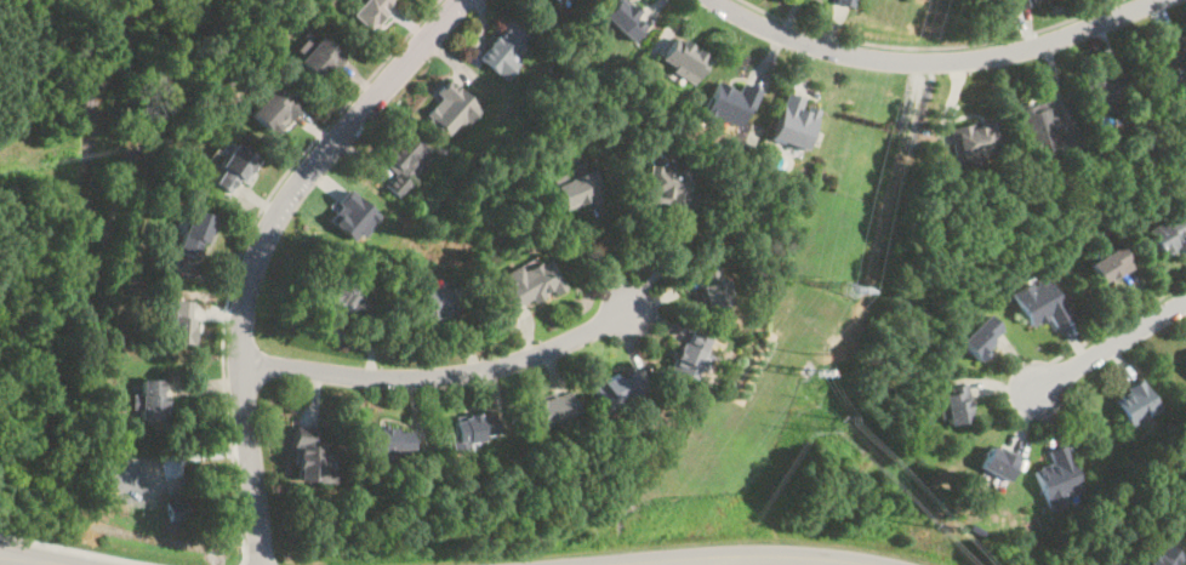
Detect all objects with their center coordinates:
building: (559, 1)
building: (1025, 1)
building: (843, 2)
building: (369, 12)
building: (620, 19)
road: (933, 48)
building: (502, 50)
building: (682, 58)
building: (1171, 58)
building: (318, 59)
road: (936, 63)
building: (1104, 93)
building: (730, 103)
building: (449, 109)
building: (270, 113)
building: (793, 120)
building: (1040, 125)
building: (974, 139)
building: (400, 153)
building: (232, 170)
building: (666, 187)
building: (574, 189)
building: (353, 216)
building: (192, 233)
building: (1164, 233)
road: (246, 236)
road: (107, 242)
road: (261, 249)
road: (611, 256)
road: (668, 259)
building: (1108, 264)
building: (528, 284)
power tower: (816, 284)
building: (711, 287)
power tower: (850, 290)
building: (341, 295)
building: (439, 299)
building: (1039, 302)
building: (178, 321)
road: (1118, 323)
building: (981, 337)
road: (1108, 343)
building: (688, 353)
power tower: (808, 376)
road: (437, 378)
building: (615, 390)
building: (150, 400)
building: (1134, 403)
building: (956, 405)
building: (552, 407)
building: (472, 428)
power tower: (809, 429)
building: (388, 438)
building: (309, 456)
building: (997, 463)
building: (1056, 478)
parking lot: (154, 481)
building: (179, 512)
power tower: (931, 525)
road: (74, 550)
road: (244, 552)
road: (746, 557)
building: (1164, 557)
road: (18, 561)

